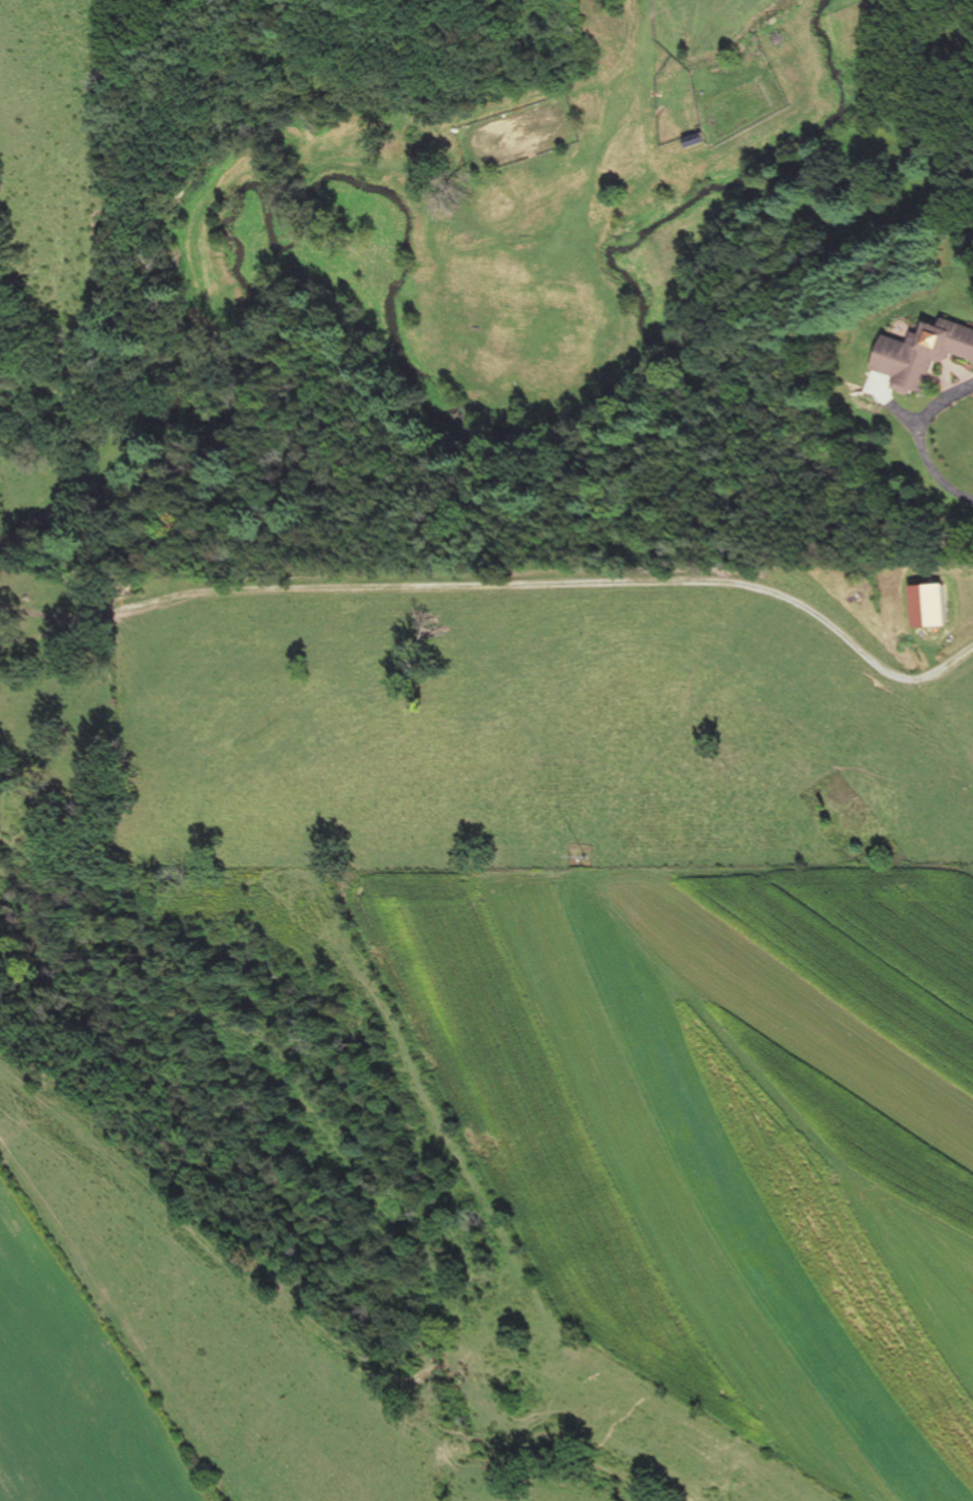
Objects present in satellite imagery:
building: (921, 357)

